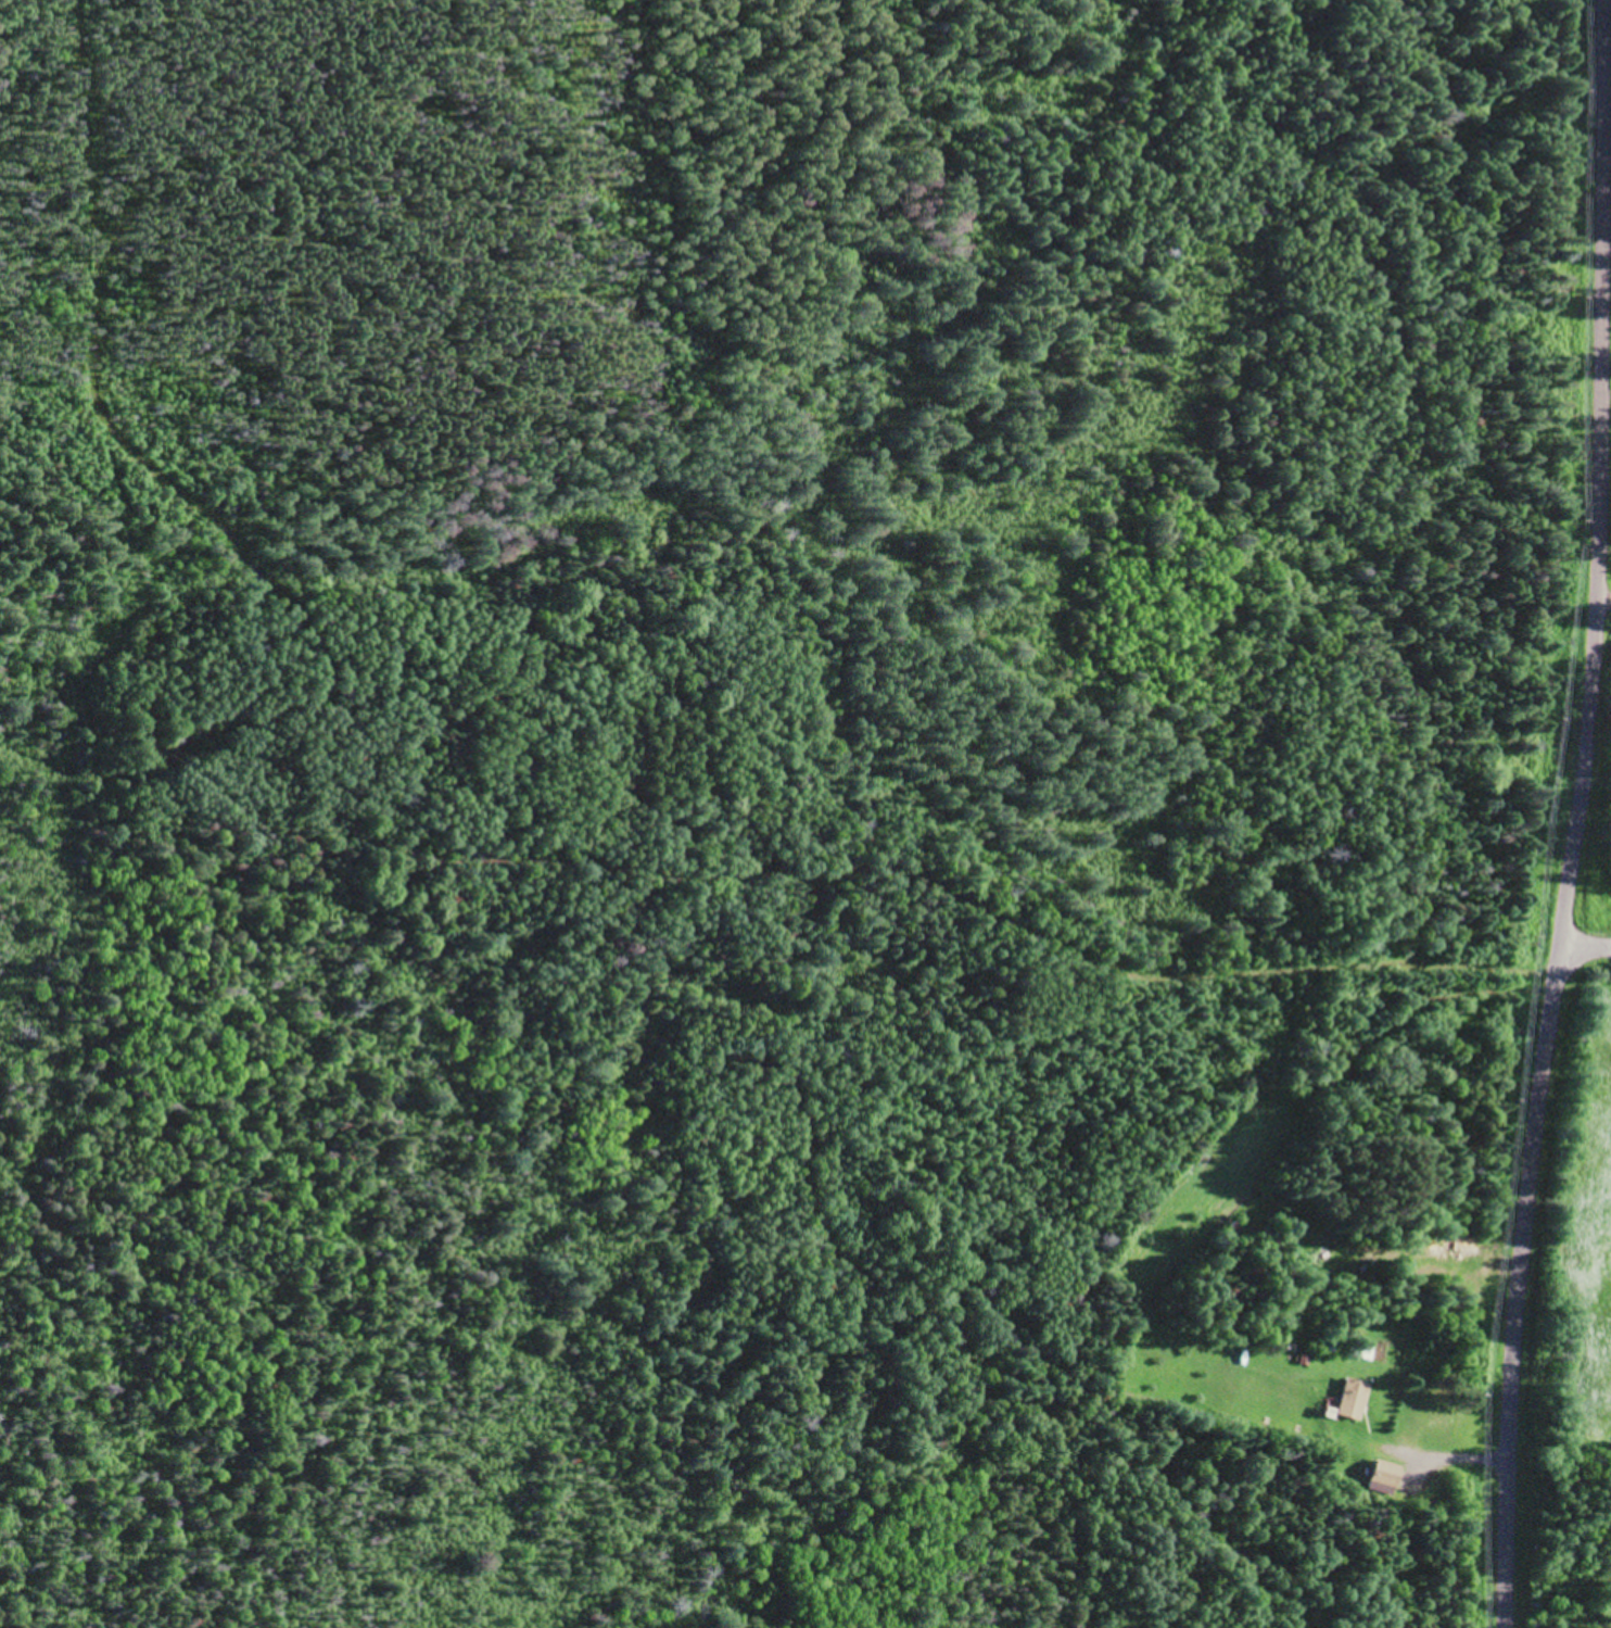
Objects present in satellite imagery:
road: (1576, 815)
road: (1584, 947)
building: (1366, 1350)
building: (1350, 1399)
building: (1384, 1473)

